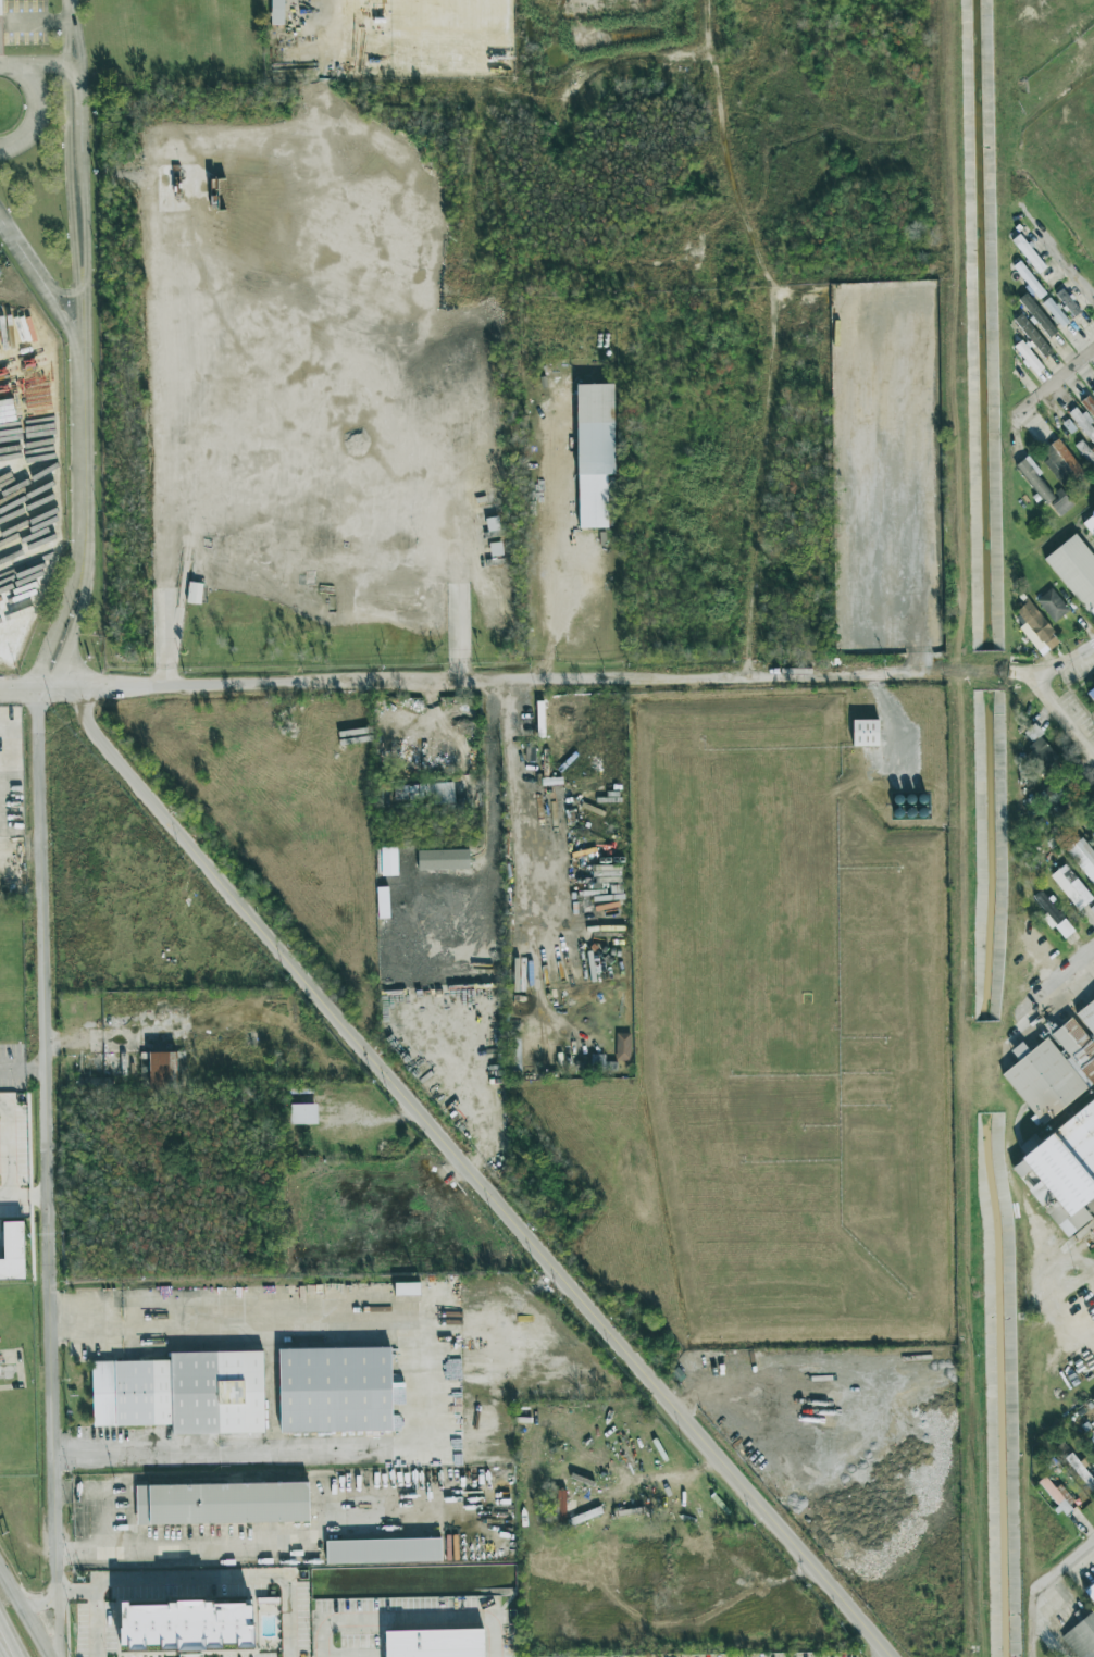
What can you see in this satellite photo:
building: (277, 12)
road: (66, 32)
road: (40, 65)
road: (5, 67)
road: (751, 70)
road: (595, 83)
road: (38, 112)
road: (476, 157)
road: (78, 203)
building: (1028, 253)
road: (1065, 266)
building: (1028, 279)
road: (43, 283)
building: (1067, 302)
building: (1055, 312)
building: (1037, 314)
road: (770, 335)
building: (1032, 335)
building: (1028, 357)
road: (1053, 384)
building: (1093, 391)
building: (1089, 404)
building: (1082, 423)
building: (1069, 426)
building: (594, 451)
building: (1085, 451)
road: (85, 460)
building: (1060, 462)
building: (1033, 478)
road: (313, 493)
building: (1061, 503)
building: (1089, 522)
road: (562, 545)
building: (1076, 571)
building: (194, 593)
building: (1052, 605)
road: (55, 627)
building: (1035, 628)
road: (71, 632)
road: (1062, 661)
road: (482, 681)
road: (23, 684)
building: (1091, 693)
building: (998, 712)
road: (893, 715)
building: (978, 715)
road: (1060, 718)
building: (865, 733)
building: (1037, 750)
building: (440, 793)
building: (1051, 795)
road: (512, 802)
building: (1083, 857)
building: (1040, 858)
building: (443, 859)
building: (1071, 887)
building: (1053, 915)
road: (1055, 977)
building: (623, 1046)
building: (601, 1063)
building: (1056, 1063)
road: (21, 1067)
building: (158, 1070)
building: (302, 1113)
road: (43, 1136)
road: (7, 1149)
road: (468, 1169)
building: (1062, 1169)
road: (23, 1197)
building: (10, 1245)
building: (407, 1288)
road: (237, 1323)
building: (335, 1390)
building: (184, 1394)
building: (1093, 1400)
road: (227, 1452)
road: (414, 1452)
building: (1081, 1472)
building: (1057, 1494)
building: (560, 1505)
building: (223, 1506)
road: (110, 1524)
road: (263, 1546)
building: (384, 1553)
road: (1043, 1580)
road: (209, 1581)
building: (1090, 1592)
road: (39, 1602)
road: (26, 1610)
road: (409, 1617)
road: (57, 1623)
building: (186, 1625)
road: (10, 1634)
building: (1081, 1637)
building: (436, 1642)
road: (1030, 1648)
road: (1, 1654)

